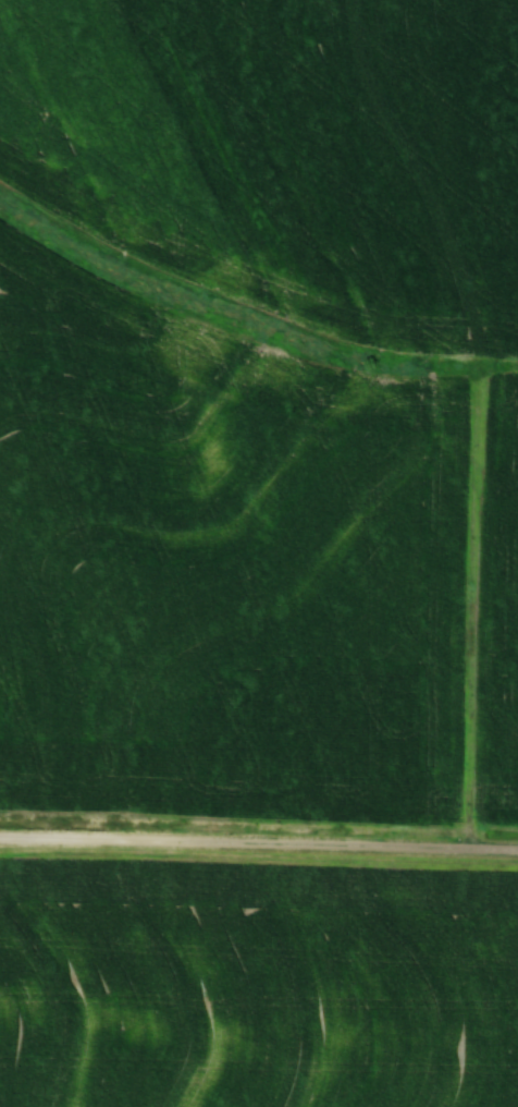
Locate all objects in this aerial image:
road: (258, 849)

